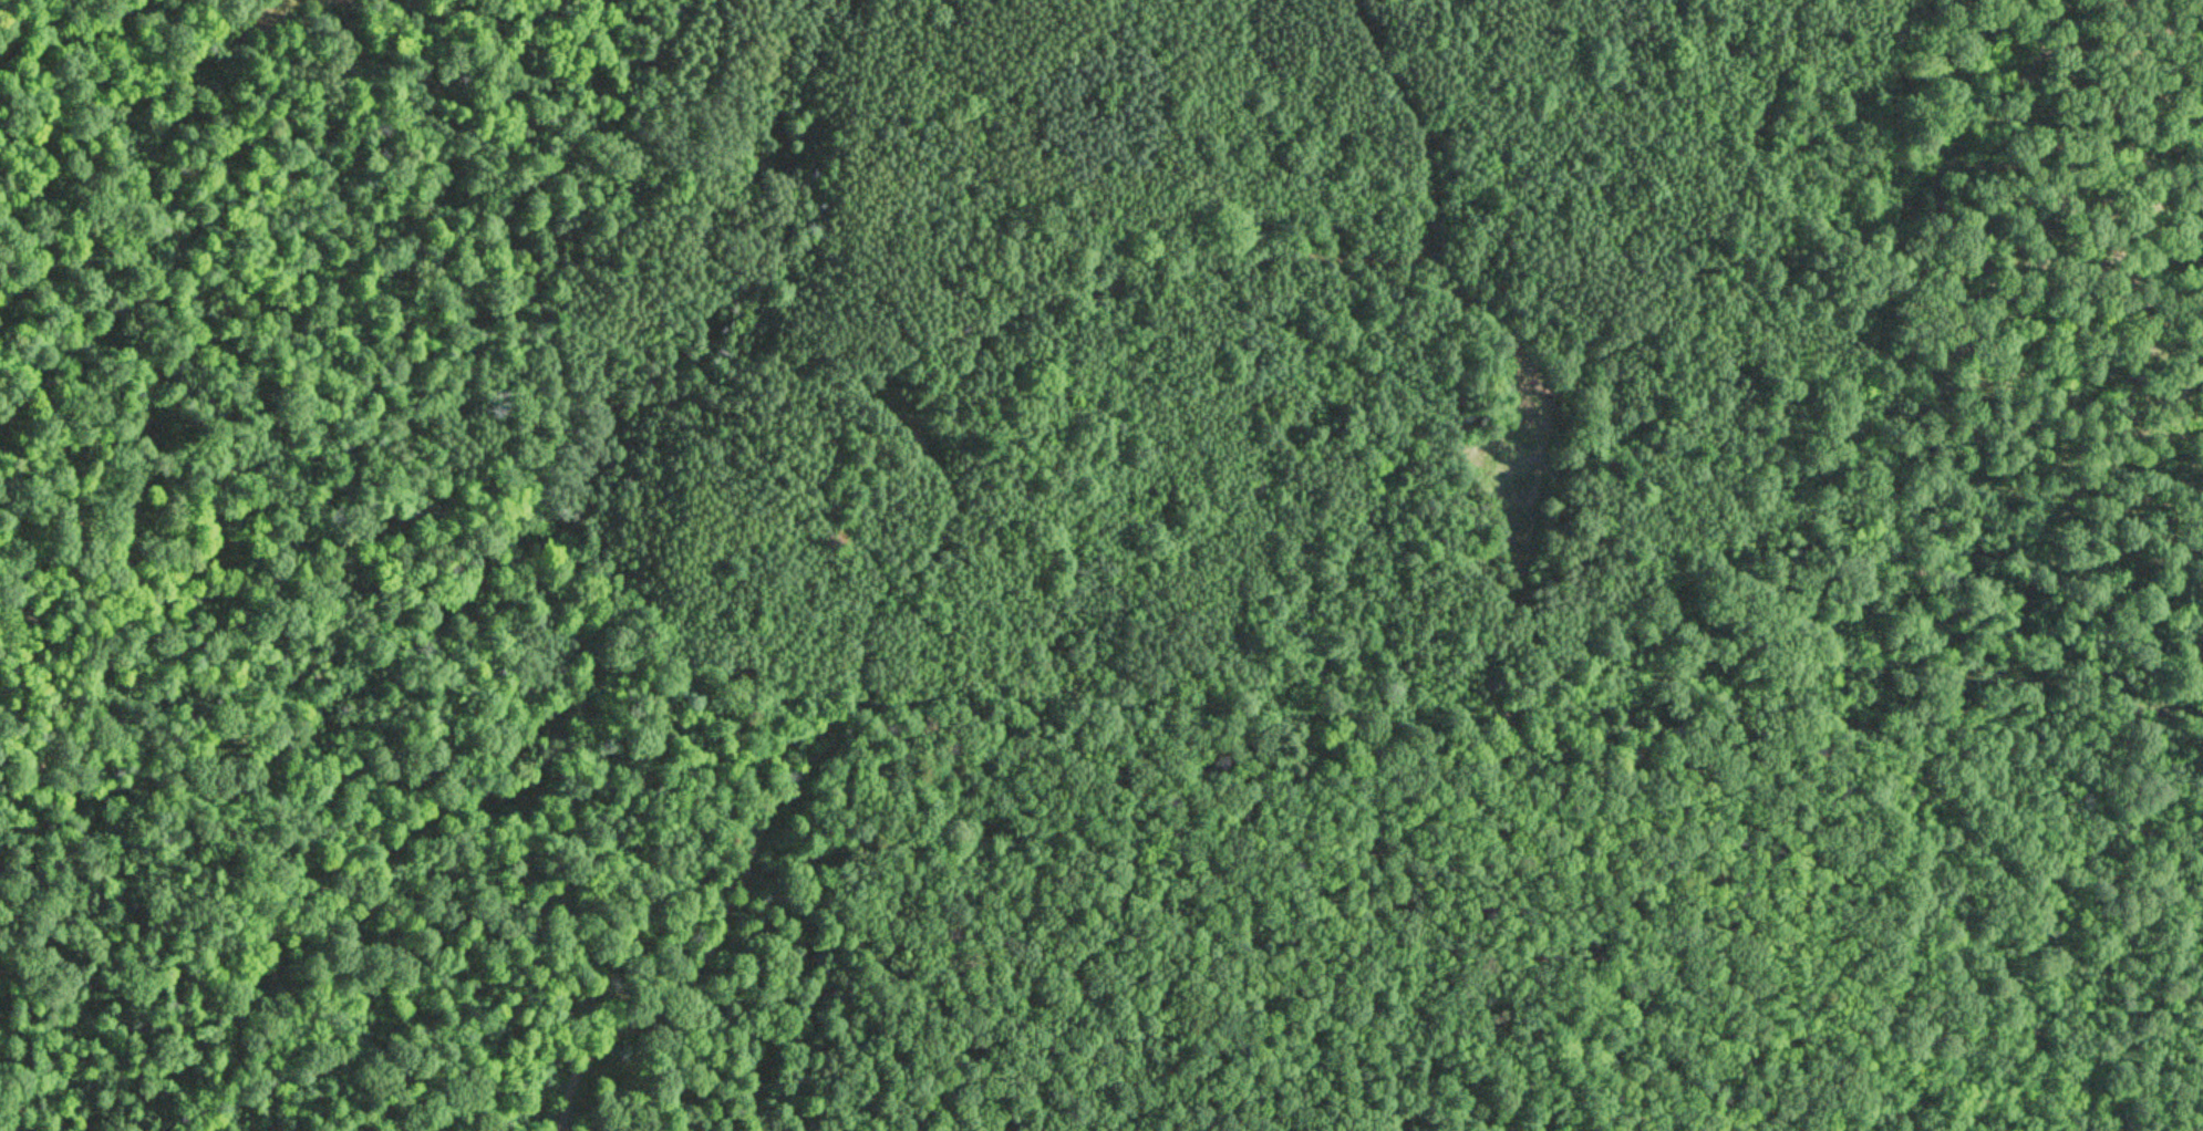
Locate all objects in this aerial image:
building: (1545, 391)

